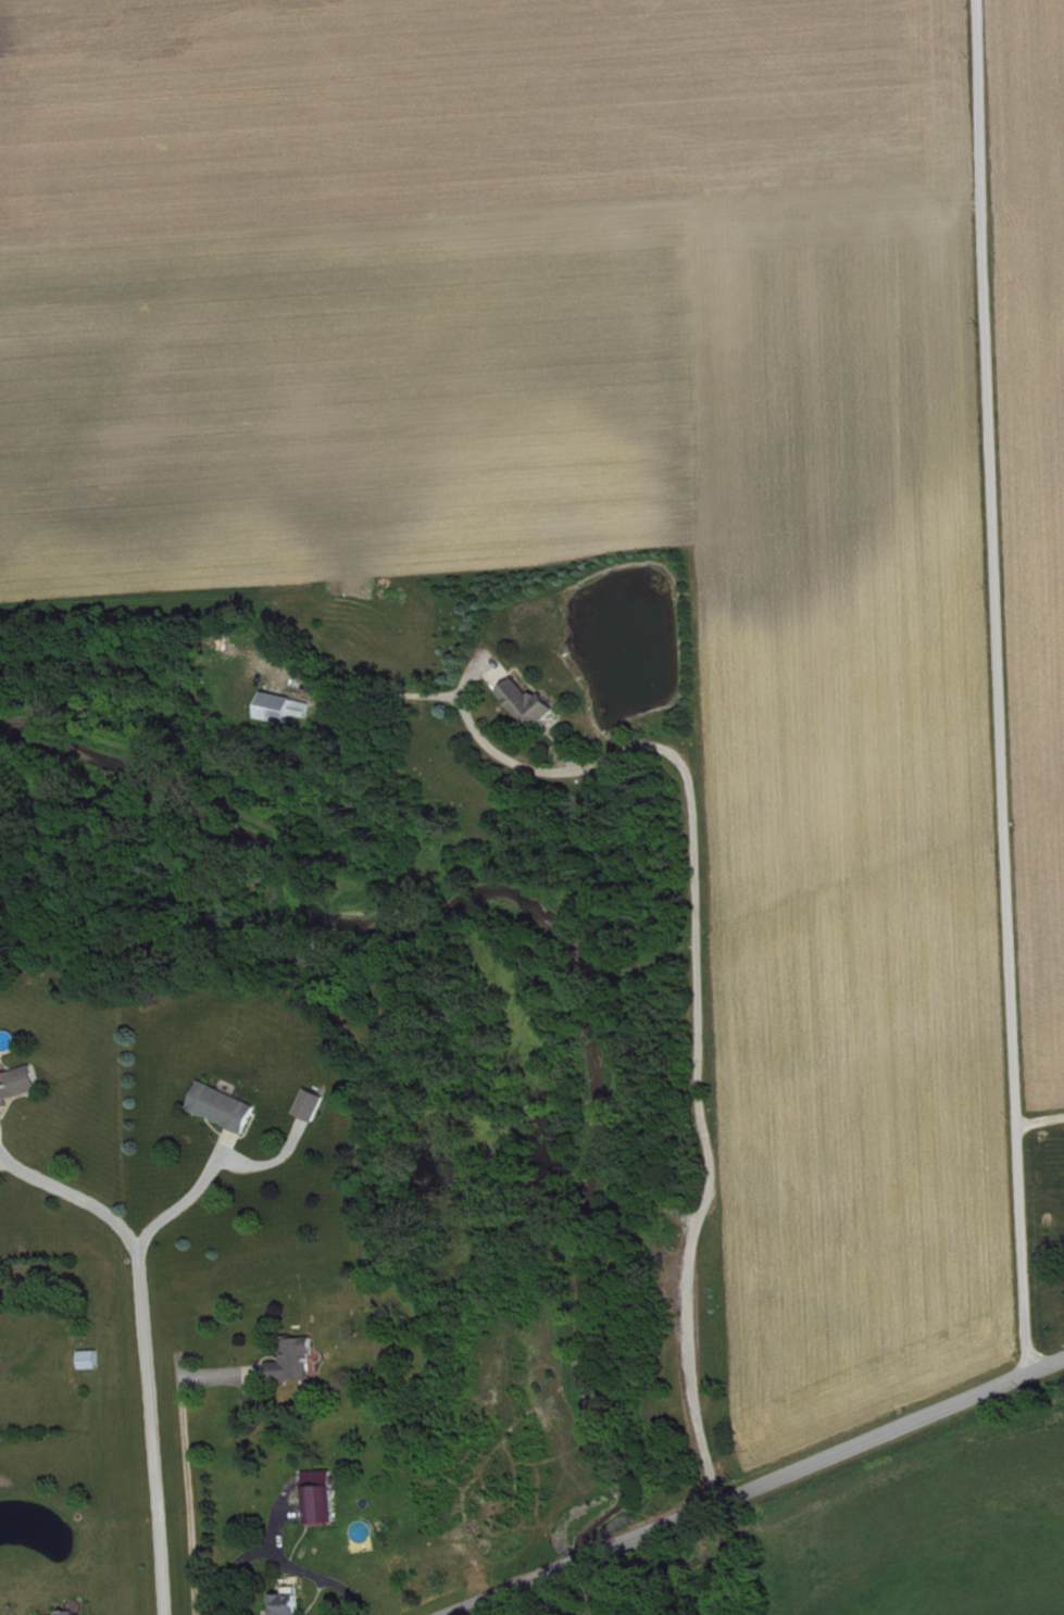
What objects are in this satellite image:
road: (1004, 684)
building: (534, 711)
building: (287, 715)
road: (697, 986)
building: (20, 1091)
building: (315, 1113)
building: (227, 1115)
road: (1041, 1118)
road: (77, 1204)
road: (190, 1211)
building: (298, 1367)
road: (153, 1438)
road: (829, 1452)
road: (192, 1470)
building: (324, 1504)
road: (280, 1557)
road: (585, 1557)
road: (509, 1589)
building: (291, 1606)
building: (63, 1612)

